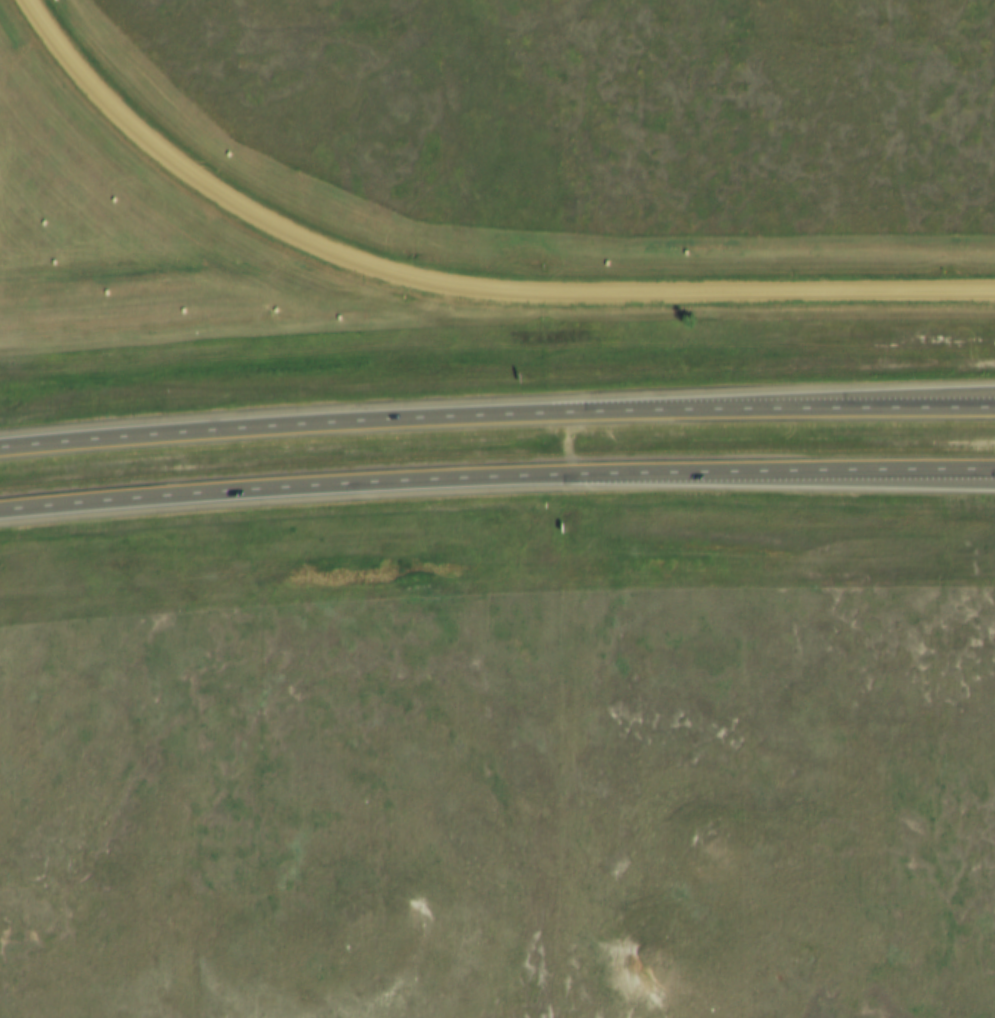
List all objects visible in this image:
road: (456, 291)
road: (926, 395)
road: (496, 417)
road: (496, 479)
road: (858, 479)

